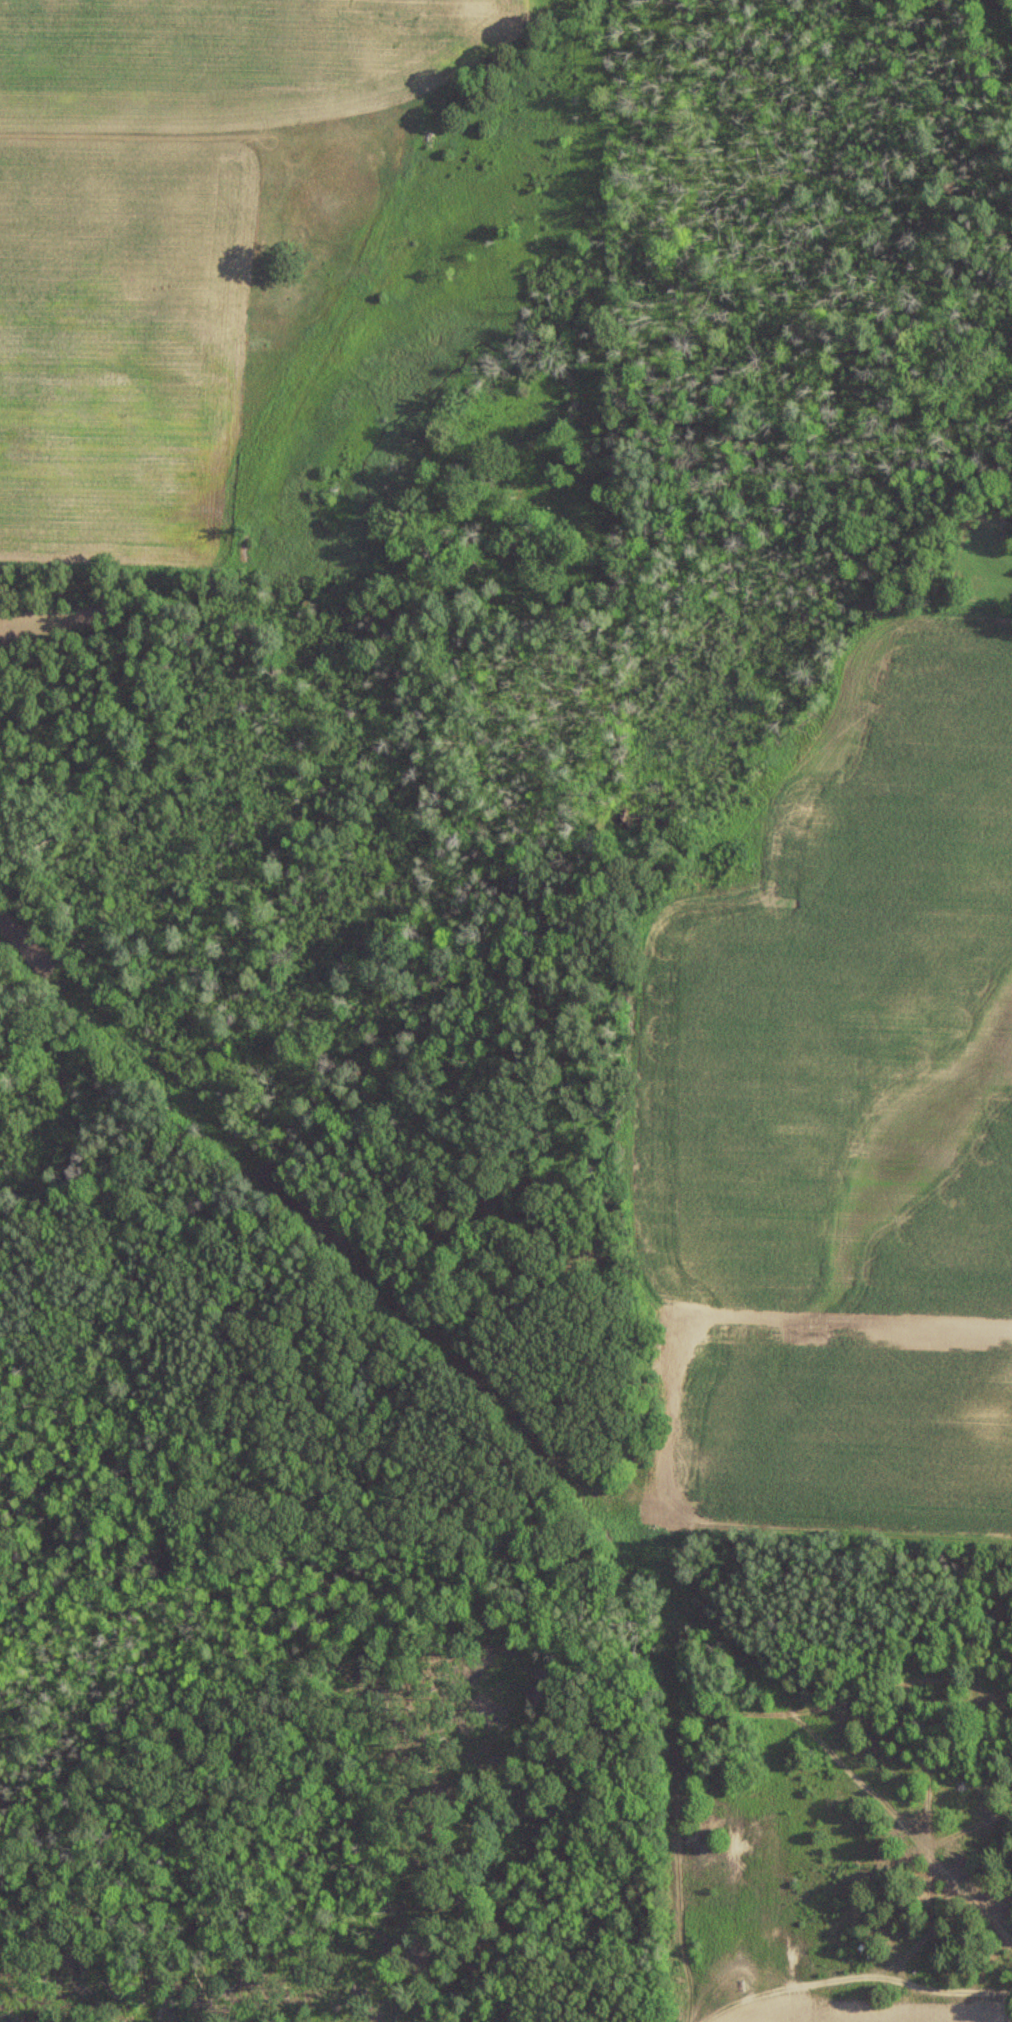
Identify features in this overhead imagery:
road: (837, 1528)

